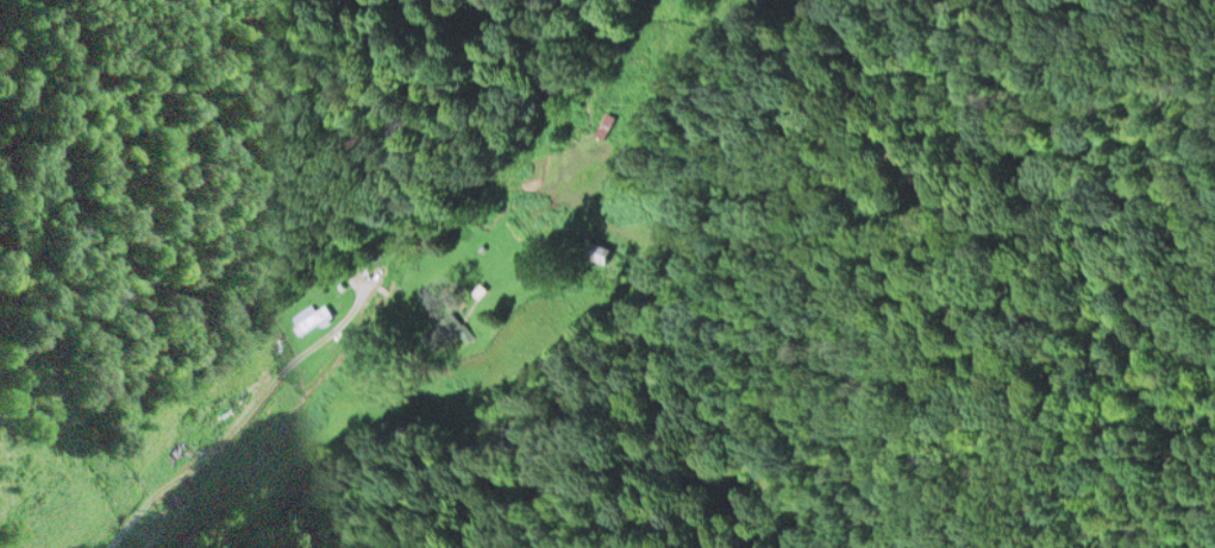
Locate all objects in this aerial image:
building: (607, 122)
building: (601, 251)
building: (480, 289)
building: (312, 317)
building: (449, 328)
road: (238, 415)

